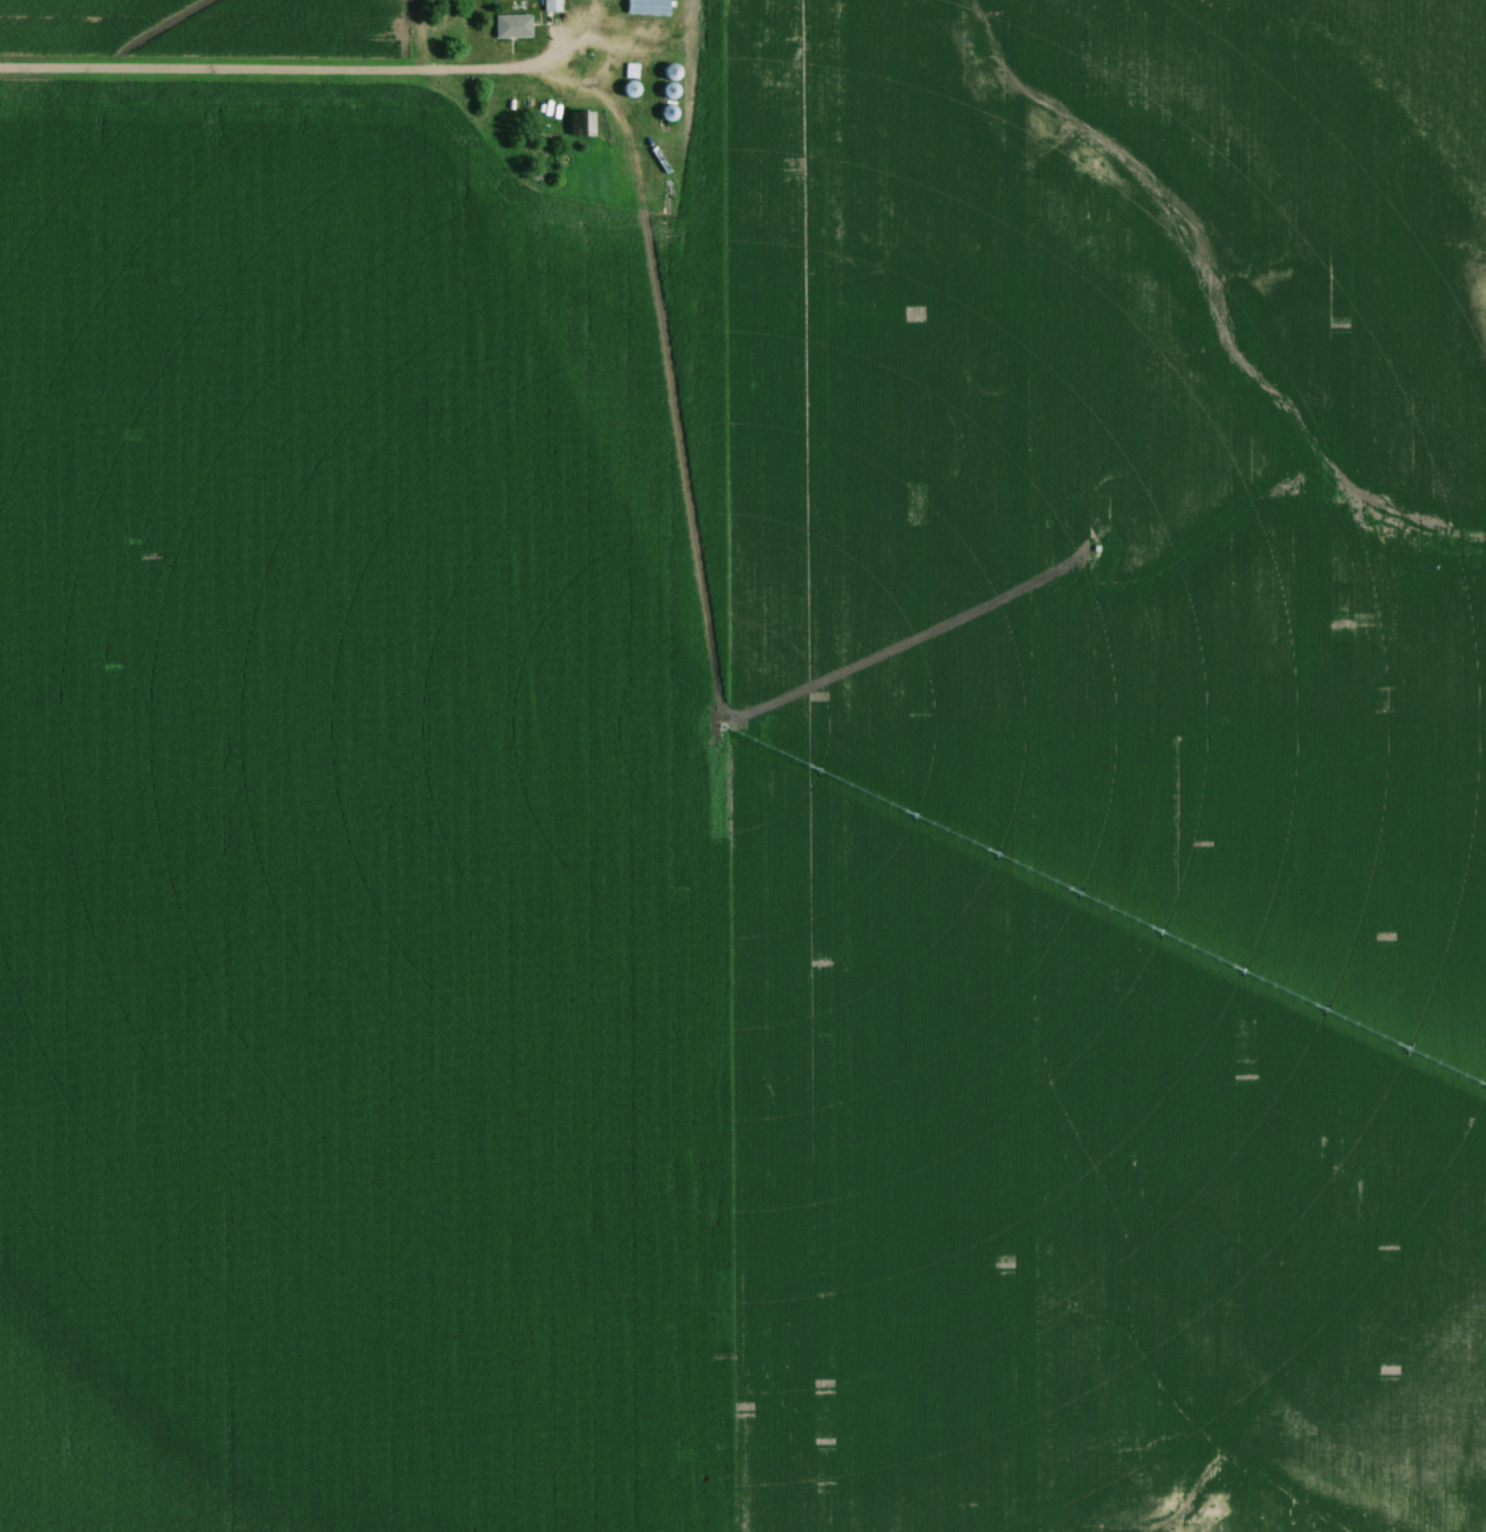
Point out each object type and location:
building: (551, 5)
building: (647, 7)
building: (512, 26)
road: (277, 74)
building: (581, 124)

